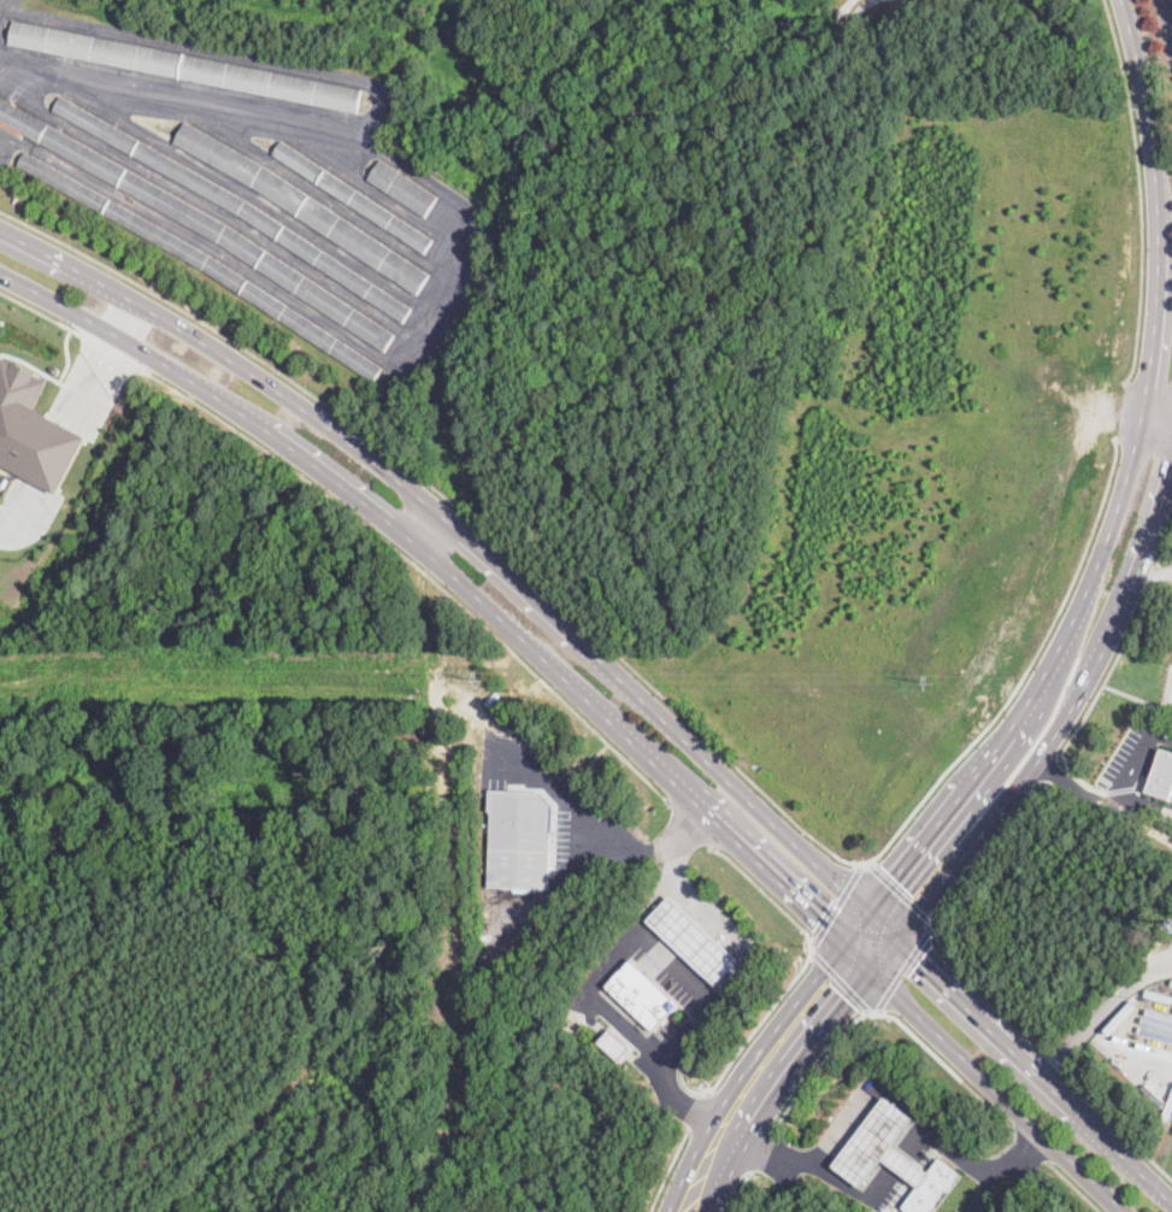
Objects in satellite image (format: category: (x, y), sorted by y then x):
road: (1166, 17)
building: (187, 66)
road: (377, 101)
road: (1, 149)
building: (402, 188)
road: (1139, 192)
building: (352, 195)
building: (300, 205)
building: (235, 206)
building: (195, 222)
building: (200, 261)
road: (58, 302)
road: (39, 310)
road: (124, 317)
road: (111, 349)
road: (65, 354)
road: (30, 365)
road: (92, 380)
road: (1120, 413)
road: (1153, 419)
building: (31, 429)
road: (53, 454)
road: (458, 501)
road: (18, 507)
road: (428, 526)
road: (1162, 543)
road: (1095, 554)
road: (423, 566)
road: (1152, 571)
road: (1152, 578)
road: (1025, 670)
road: (1107, 672)
power tower: (478, 678)
road: (614, 678)
power tower: (930, 681)
road: (1149, 702)
road: (637, 751)
road: (1142, 754)
road: (1031, 764)
road: (1048, 766)
road: (1077, 776)
building: (1162, 776)
road: (1077, 786)
road: (1148, 804)
road: (584, 817)
road: (689, 822)
building: (519, 840)
road: (983, 849)
traffic signals: (891, 876)
road: (762, 889)
road: (900, 890)
road: (836, 904)
road: (703, 911)
traffic signals: (823, 917)
road: (631, 935)
building: (693, 940)
traffic signals: (920, 954)
road: (903, 966)
road: (838, 979)
road: (706, 992)
building: (642, 995)
building: (404, 996)
traffic signals: (844, 996)
road: (761, 1018)
building: (399, 1035)
building: (613, 1045)
road: (1049, 1052)
road: (820, 1061)
road: (653, 1063)
road: (947, 1064)
road: (679, 1066)
building: (394, 1071)
road: (884, 1088)
road: (697, 1111)
road: (735, 1117)
road: (1026, 1142)
building: (879, 1147)
road: (759, 1148)
road: (667, 1170)
road: (1071, 1184)
building: (932, 1188)
road: (738, 1192)

